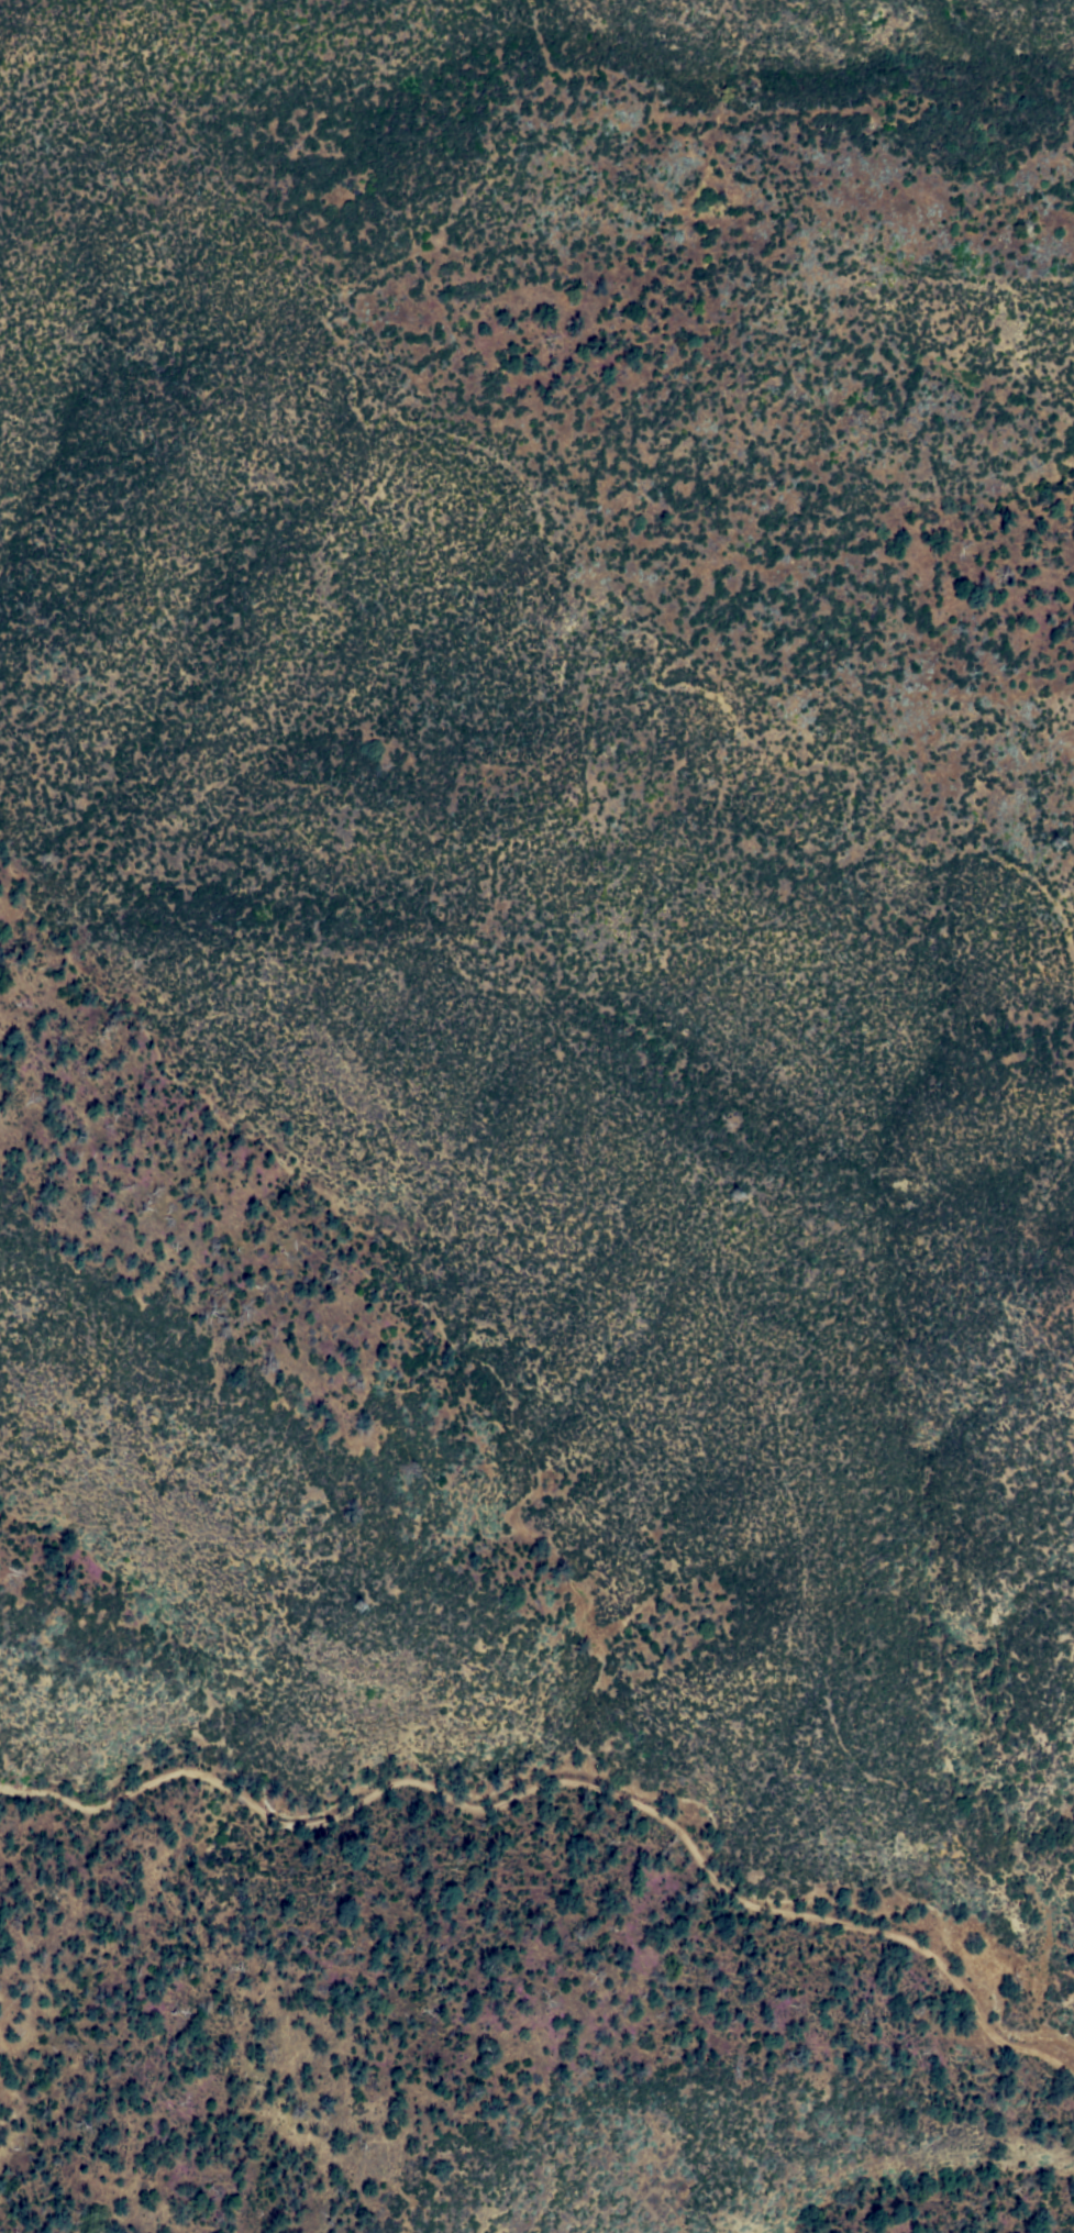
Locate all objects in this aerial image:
road: (577, 1786)

